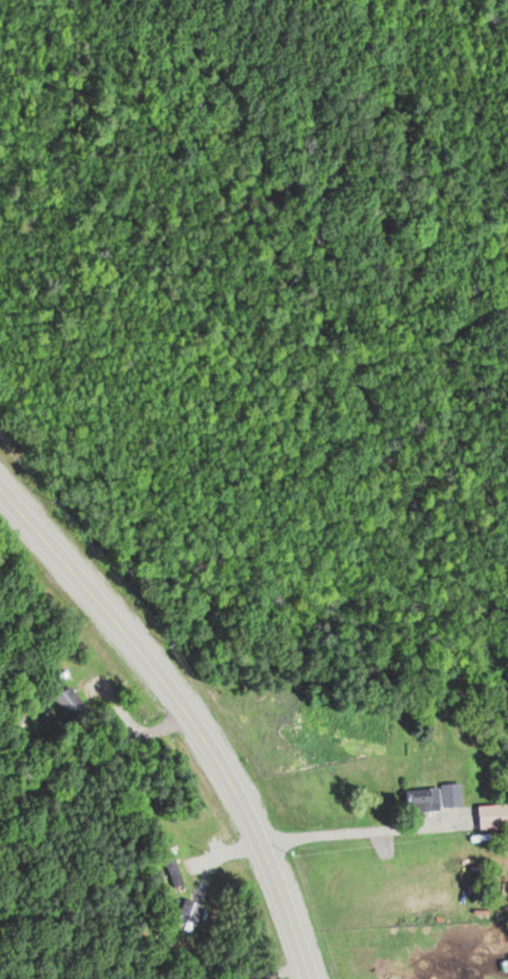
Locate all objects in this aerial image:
road: (187, 715)
road: (353, 832)
road: (278, 974)

